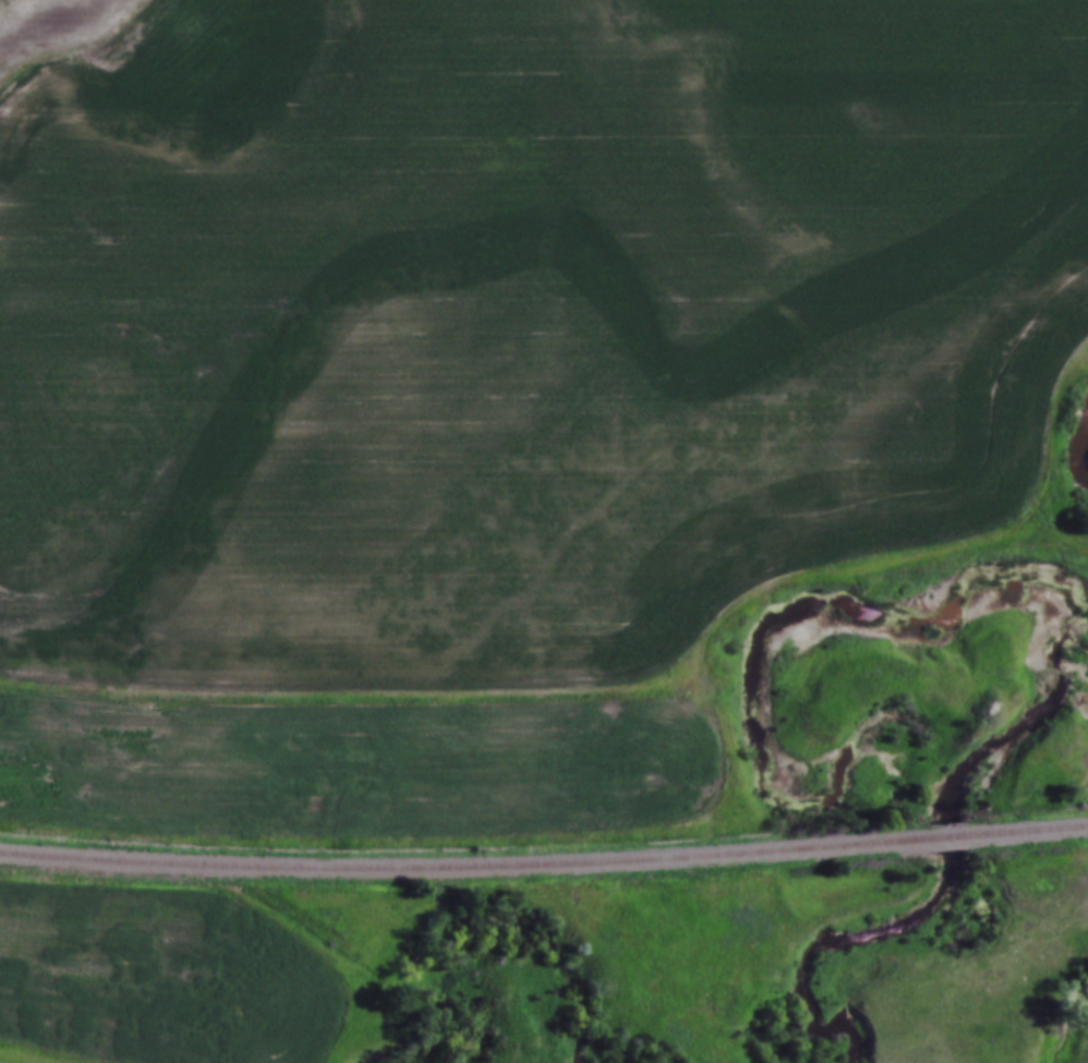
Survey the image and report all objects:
road: (906, 554)
railway: (544, 867)

